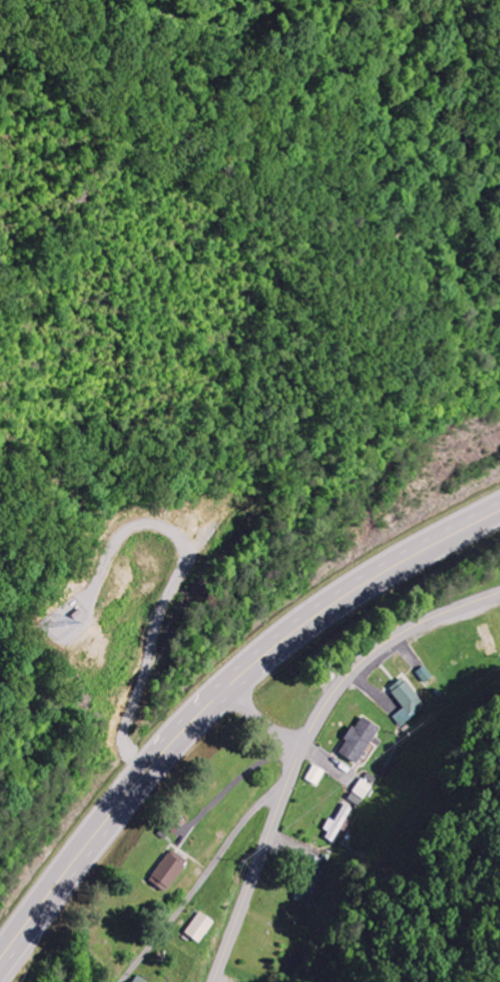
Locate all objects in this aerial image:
road: (176, 594)
road: (243, 689)
road: (218, 697)
building: (406, 702)
building: (357, 740)
road: (305, 744)
building: (313, 775)
building: (359, 793)
building: (337, 824)
road: (230, 835)
building: (166, 871)
building: (308, 888)
building: (197, 928)
building: (136, 979)

